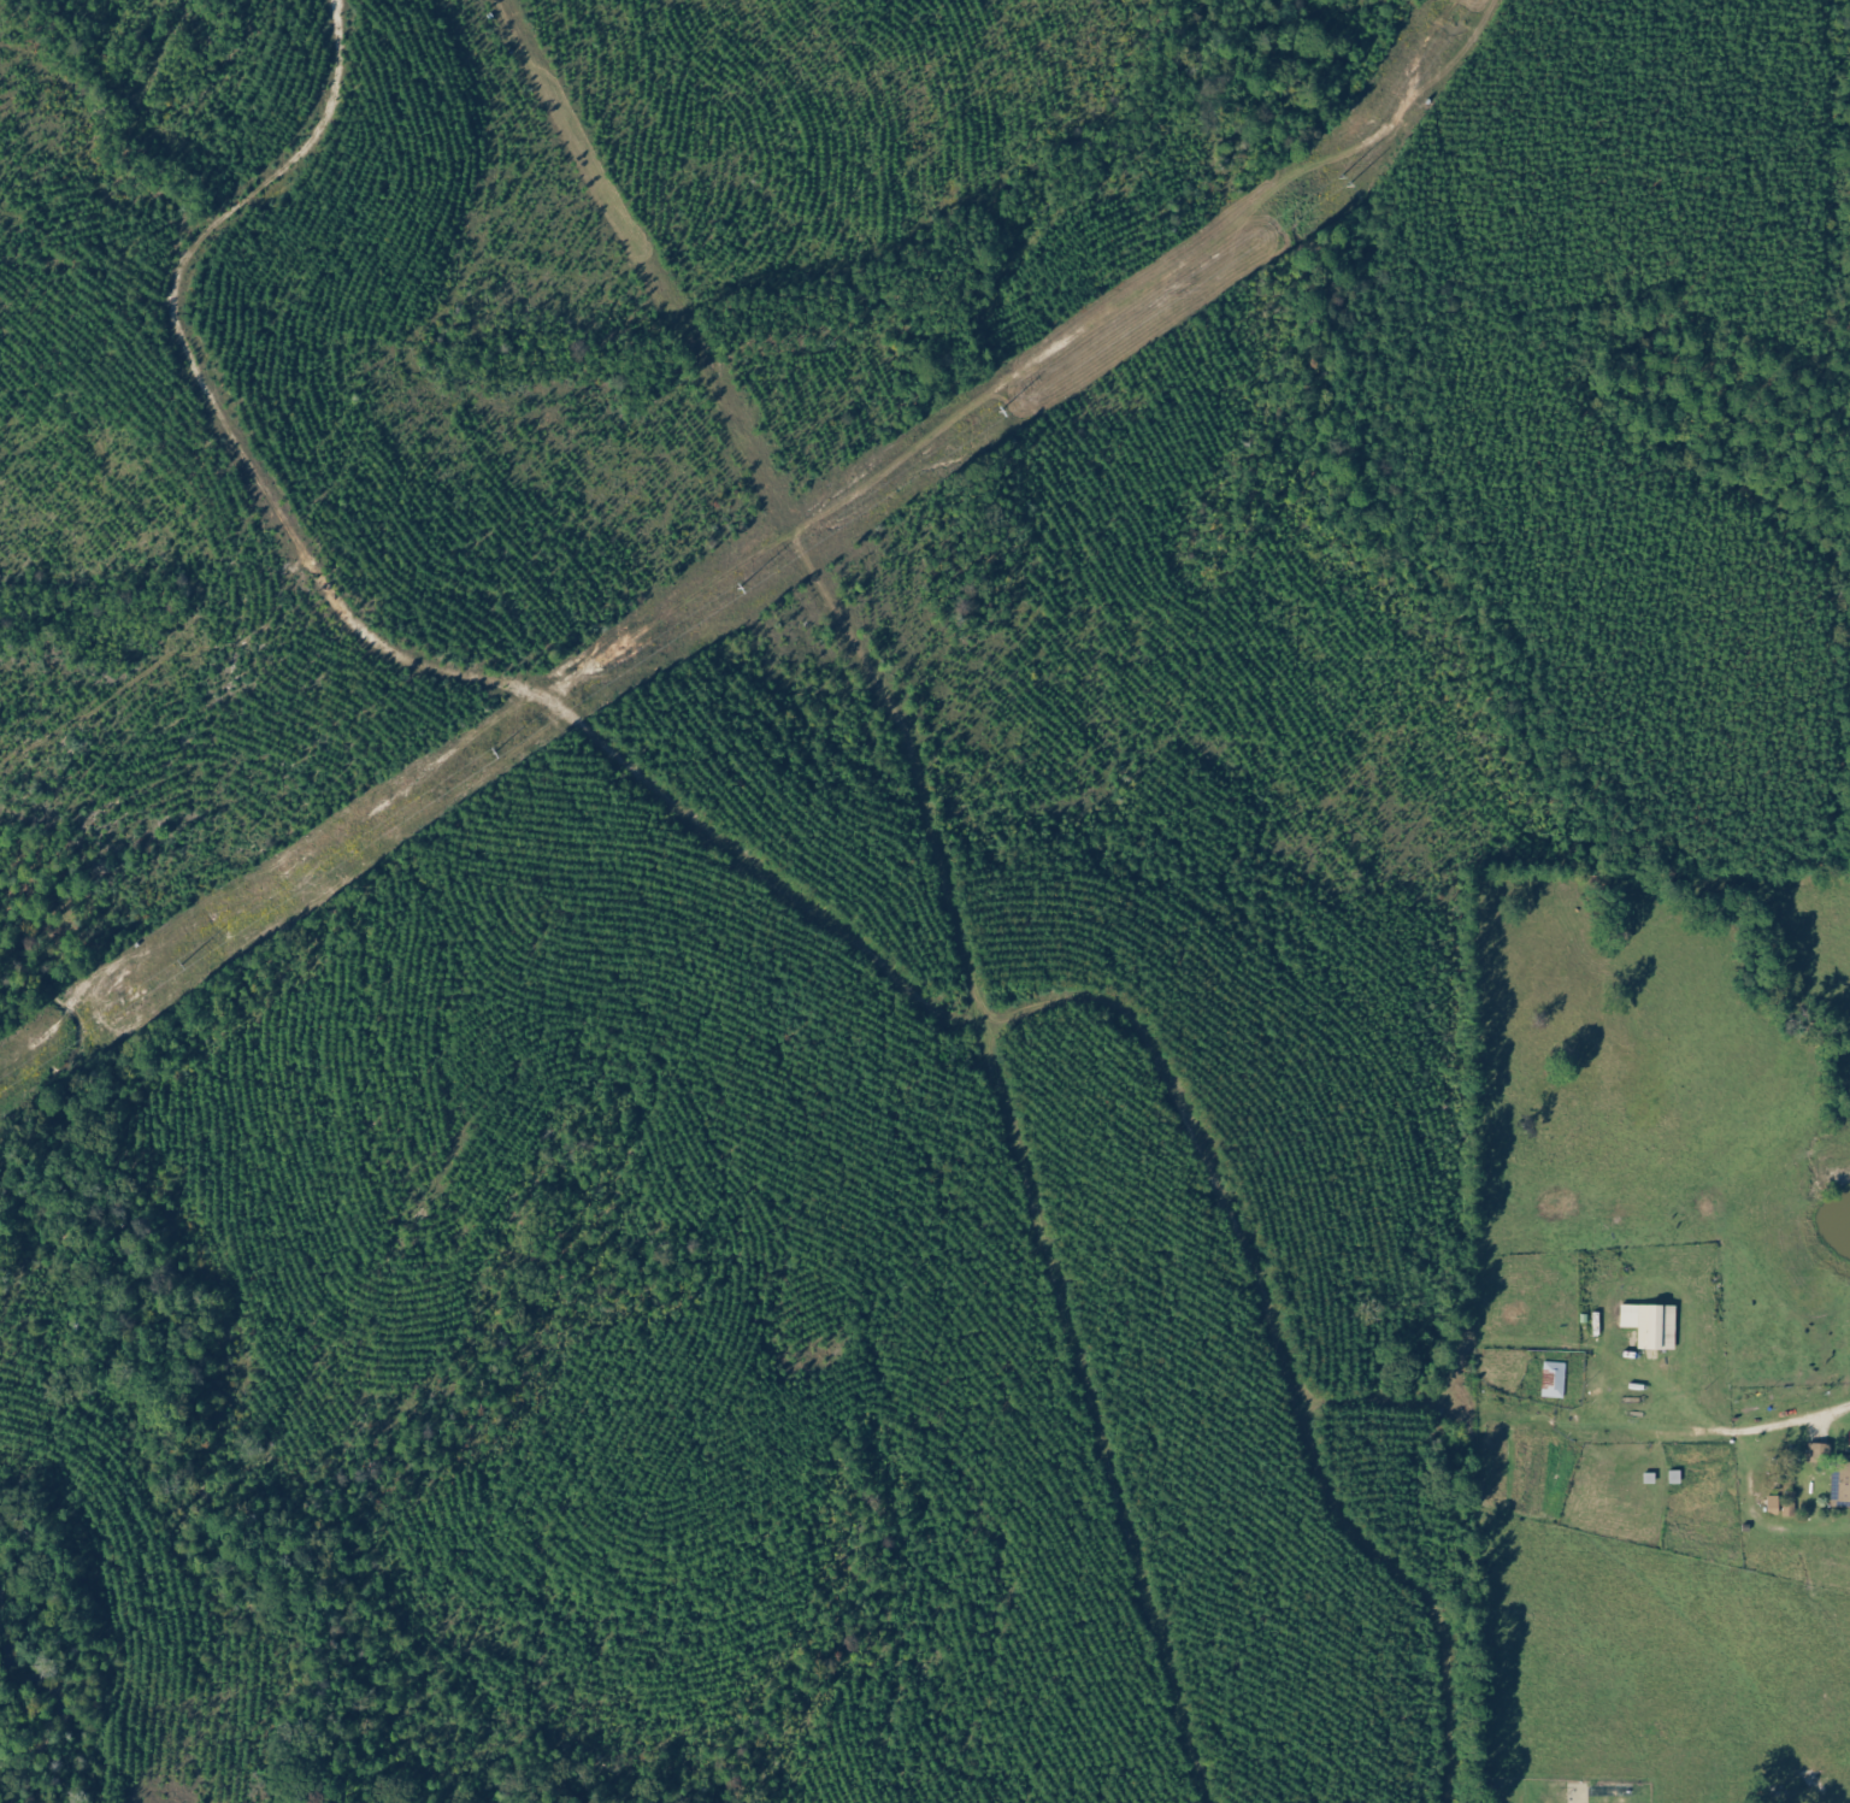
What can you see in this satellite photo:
road: (1784, 417)
building: (1654, 1326)
building: (1556, 1380)
building: (1842, 1483)
building: (1775, 1504)

